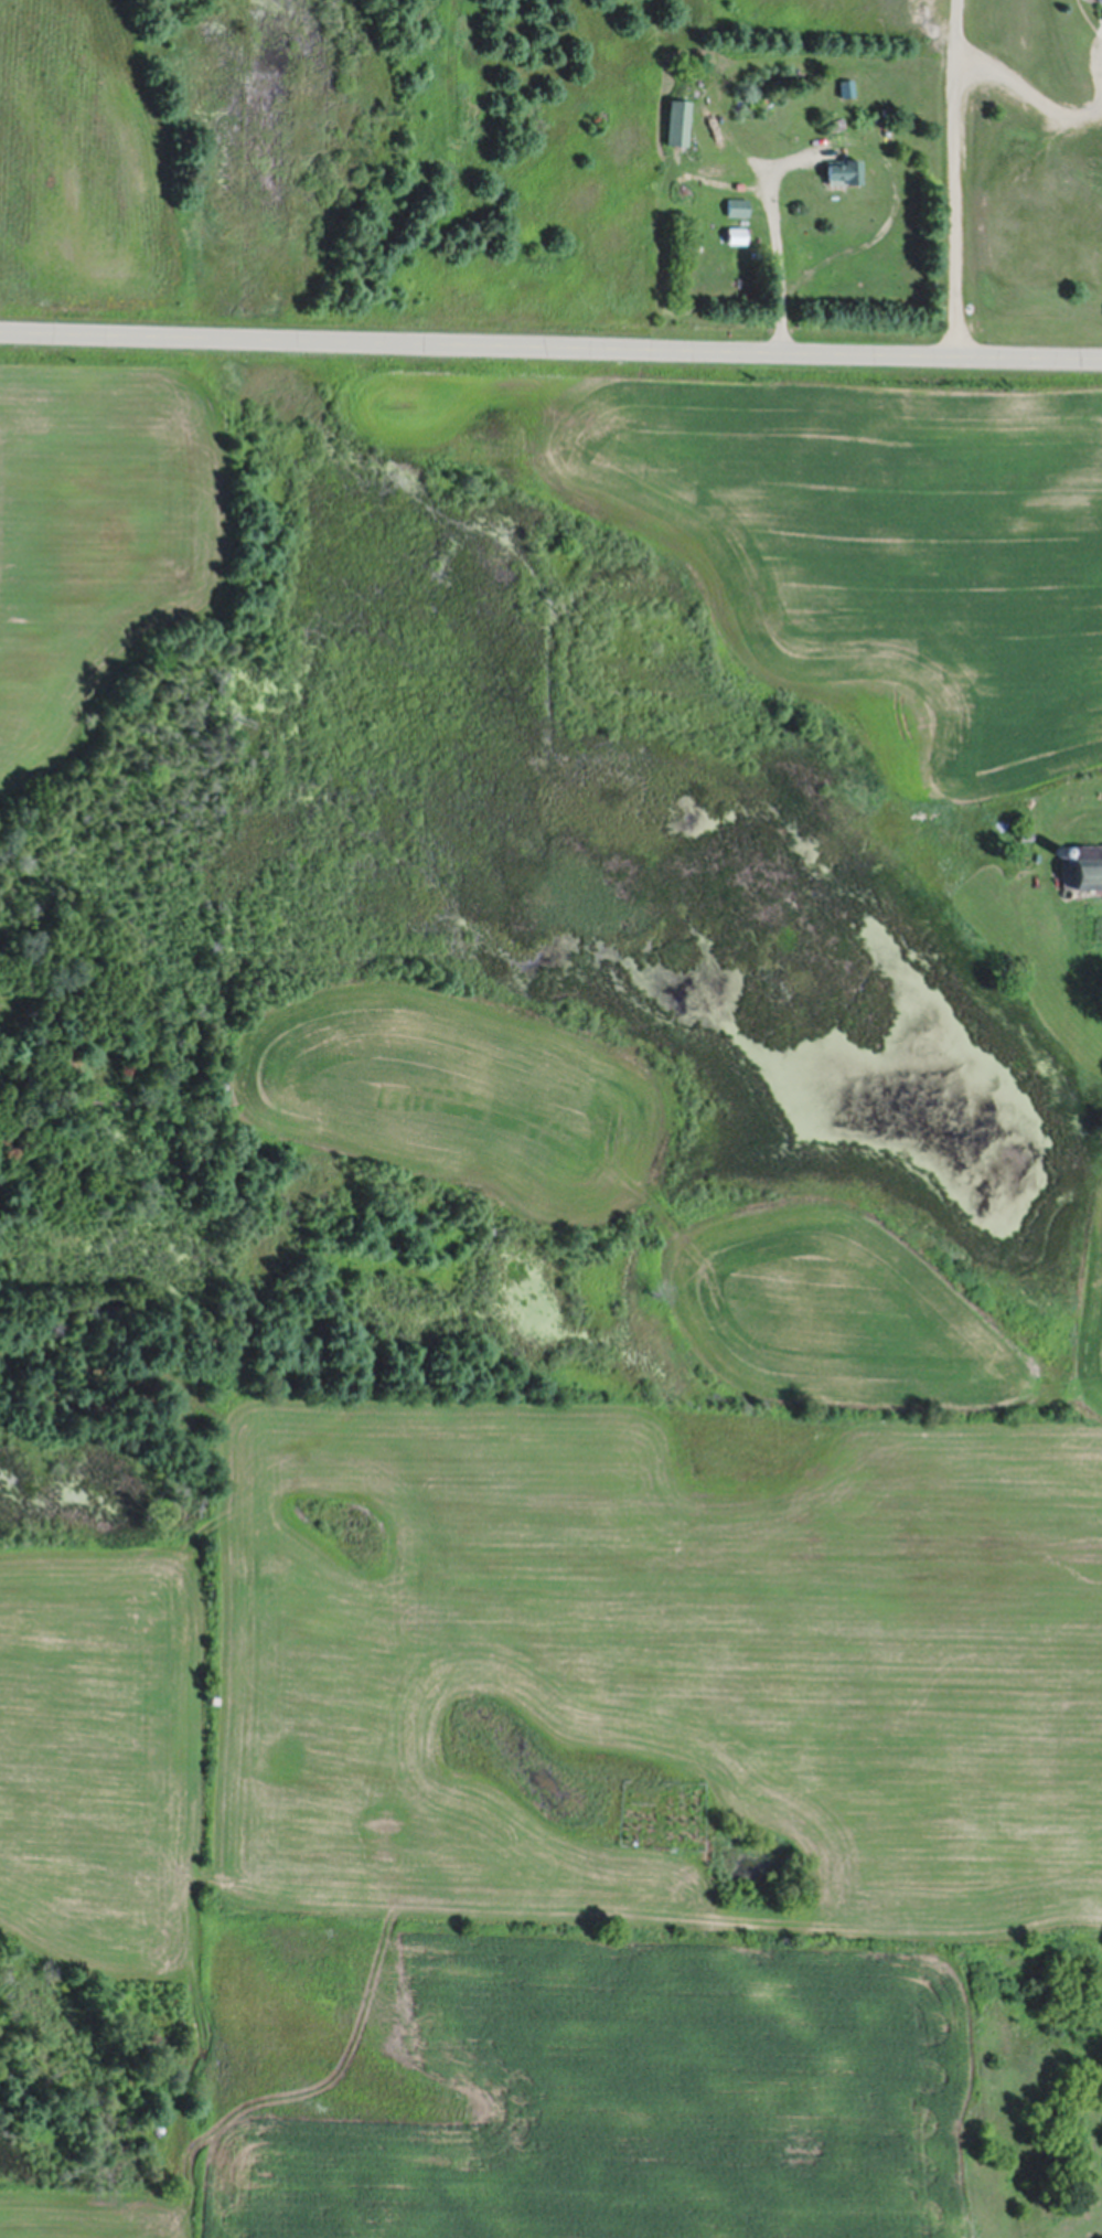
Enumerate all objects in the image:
building: (847, 86)
road: (1026, 89)
building: (680, 119)
building: (846, 169)
road: (953, 177)
building: (739, 204)
building: (737, 233)
road: (550, 340)
building: (1089, 865)

